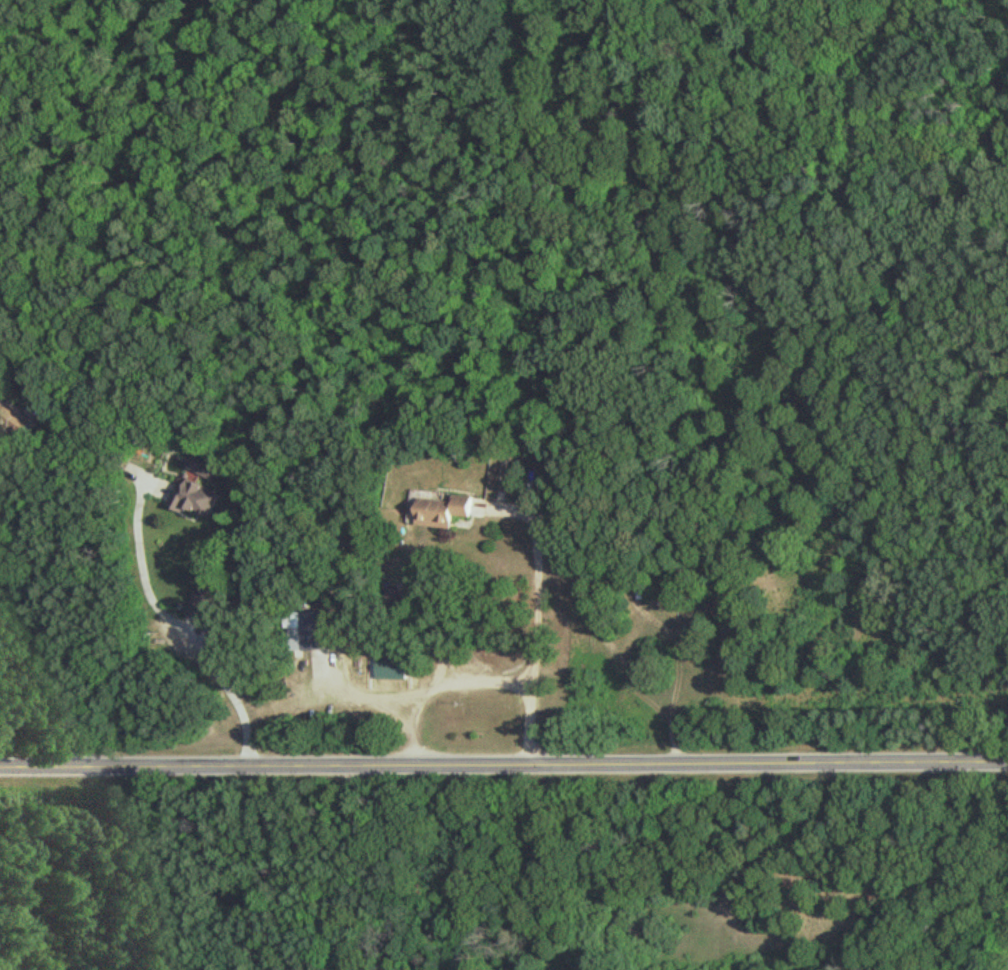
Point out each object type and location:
building: (14, 420)
building: (196, 490)
building: (440, 512)
road: (20, 573)
building: (203, 602)
road: (534, 619)
road: (179, 622)
building: (315, 632)
road: (625, 672)
road: (428, 677)
road: (503, 765)
road: (354, 867)

